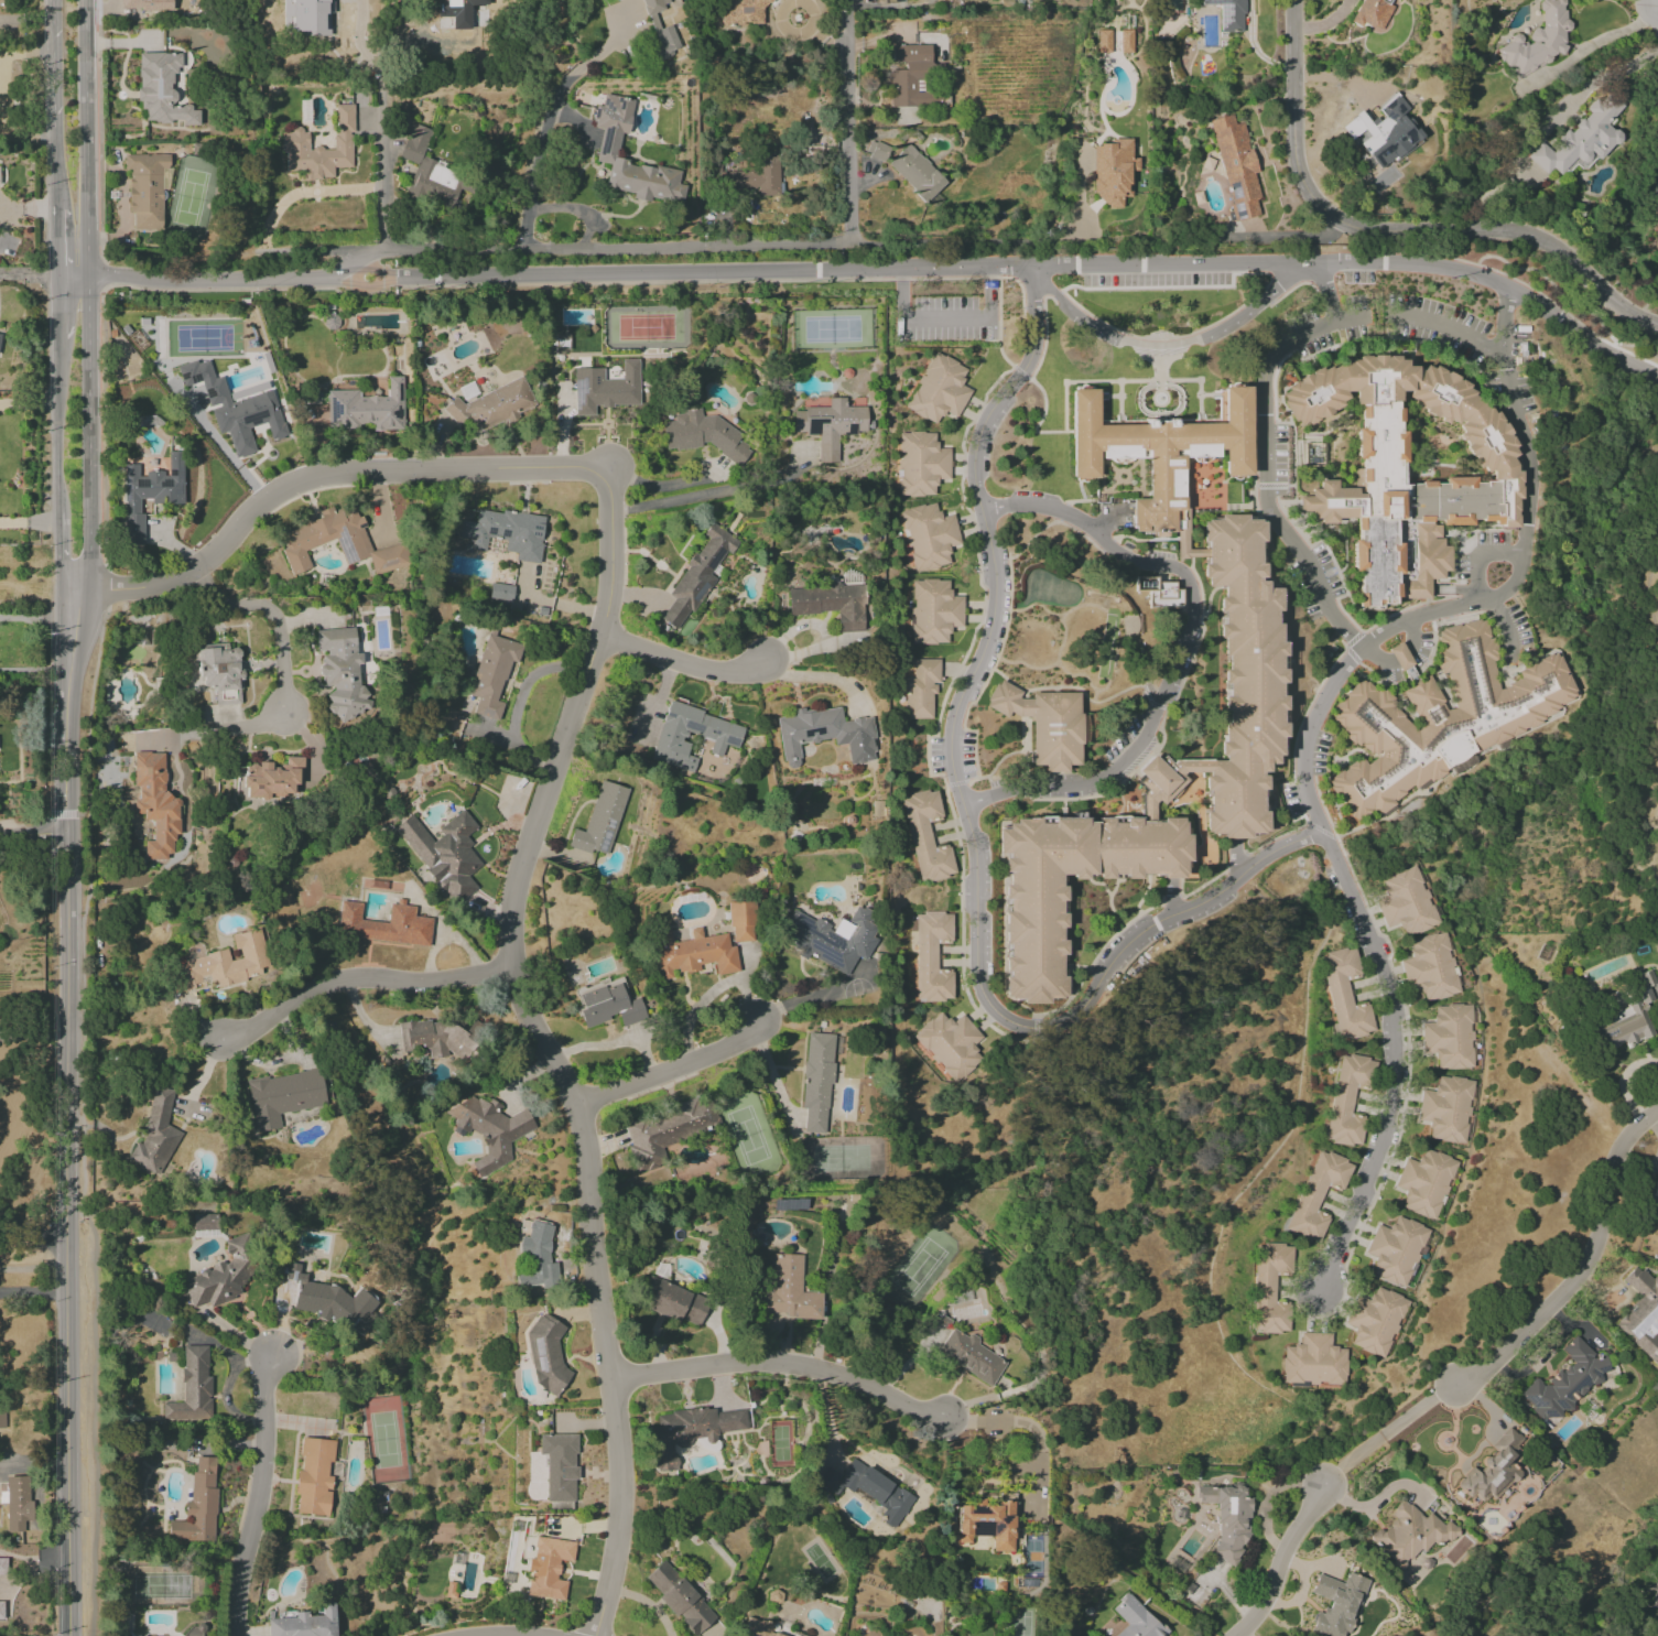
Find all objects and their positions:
building: (145, 4)
building: (743, 12)
building: (1372, 13)
road: (54, 14)
building: (1228, 14)
building: (307, 15)
building: (660, 31)
building: (1104, 41)
building: (1126, 41)
building: (1537, 41)
road: (1625, 69)
road: (55, 74)
building: (910, 76)
building: (161, 89)
road: (848, 120)
road: (549, 122)
road: (384, 131)
building: (1384, 132)
building: (1583, 138)
building: (294, 140)
building: (607, 145)
building: (877, 150)
road: (57, 161)
building: (1236, 166)
building: (1113, 171)
building: (431, 172)
building: (917, 172)
building: (754, 177)
building: (145, 189)
road: (386, 203)
road: (574, 208)
road: (1394, 228)
road: (956, 239)
road: (58, 240)
road: (452, 249)
road: (1004, 266)
road: (30, 274)
road: (993, 293)
road: (1329, 293)
road: (904, 295)
road: (58, 305)
road: (87, 312)
parking lot: (947, 322)
road: (949, 322)
parking lot: (1331, 324)
parking lot: (1438, 325)
road: (1449, 328)
building: (0, 336)
road: (1407, 338)
road: (1163, 349)
road: (1161, 365)
building: (605, 388)
building: (939, 389)
road: (1124, 400)
road: (28, 403)
building: (491, 405)
building: (234, 408)
building: (367, 408)
road: (55, 423)
building: (830, 425)
road: (1065, 432)
building: (705, 435)
building: (921, 464)
road: (1267, 467)
building: (1409, 468)
road: (371, 469)
building: (150, 492)
road: (700, 494)
road: (28, 523)
building: (503, 532)
building: (930, 537)
building: (307, 541)
road: (1033, 542)
road: (57, 570)
building: (697, 575)
road: (1480, 588)
road: (128, 589)
building: (1159, 591)
building: (500, 592)
road: (1487, 602)
building: (830, 603)
building: (933, 611)
road: (273, 615)
road: (1184, 647)
road: (1409, 658)
road: (685, 663)
building: (220, 673)
building: (342, 674)
building: (491, 674)
road: (820, 678)
building: (921, 689)
road: (1073, 689)
building: (1256, 695)
road: (518, 703)
building: (1441, 719)
building: (1044, 724)
building: (824, 734)
building: (719, 736)
building: (273, 780)
building: (154, 804)
building: (600, 821)
road: (973, 828)
road: (32, 833)
building: (926, 837)
building: (444, 854)
building: (1405, 902)
building: (740, 921)
building: (383, 924)
building: (831, 938)
building: (692, 953)
building: (932, 957)
building: (223, 963)
building: (1430, 967)
road: (361, 980)
road: (709, 993)
building: (1345, 995)
building: (609, 1004)
building: (1627, 1019)
road: (33, 1033)
building: (1449, 1037)
building: (441, 1038)
road: (542, 1041)
road: (613, 1043)
building: (951, 1044)
road: (1395, 1061)
road: (672, 1069)
road: (771, 1075)
building: (816, 1081)
building: (283, 1096)
building: (1347, 1101)
building: (1446, 1109)
road: (66, 1129)
building: (489, 1130)
building: (665, 1131)
building: (155, 1134)
building: (1426, 1183)
building: (1655, 1191)
building: (1318, 1193)
road: (33, 1232)
building: (1396, 1250)
building: (537, 1257)
road: (33, 1267)
road: (1585, 1269)
building: (219, 1277)
building: (1270, 1287)
building: (789, 1290)
road: (34, 1292)
building: (322, 1301)
building: (674, 1301)
building: (1641, 1313)
building: (1376, 1321)
building: (545, 1354)
building: (971, 1356)
building: (1314, 1362)
road: (784, 1364)
building: (1565, 1383)
building: (192, 1387)
building: (2, 1418)
road: (1030, 1426)
building: (690, 1431)
road: (1389, 1433)
building: (559, 1466)
building: (1493, 1467)
building: (314, 1476)
building: (869, 1489)
road: (261, 1496)
building: (17, 1503)
building: (197, 1506)
building: (1227, 1519)
building: (988, 1525)
building: (1409, 1534)
building: (17, 1558)
road: (1281, 1563)
building: (548, 1568)
park: (1612, 1586)
building: (679, 1597)
road: (647, 1603)
building: (1336, 1604)
building: (1, 1610)
building: (1136, 1618)
building: (305, 1624)
building: (756, 1627)
building: (194, 1630)

